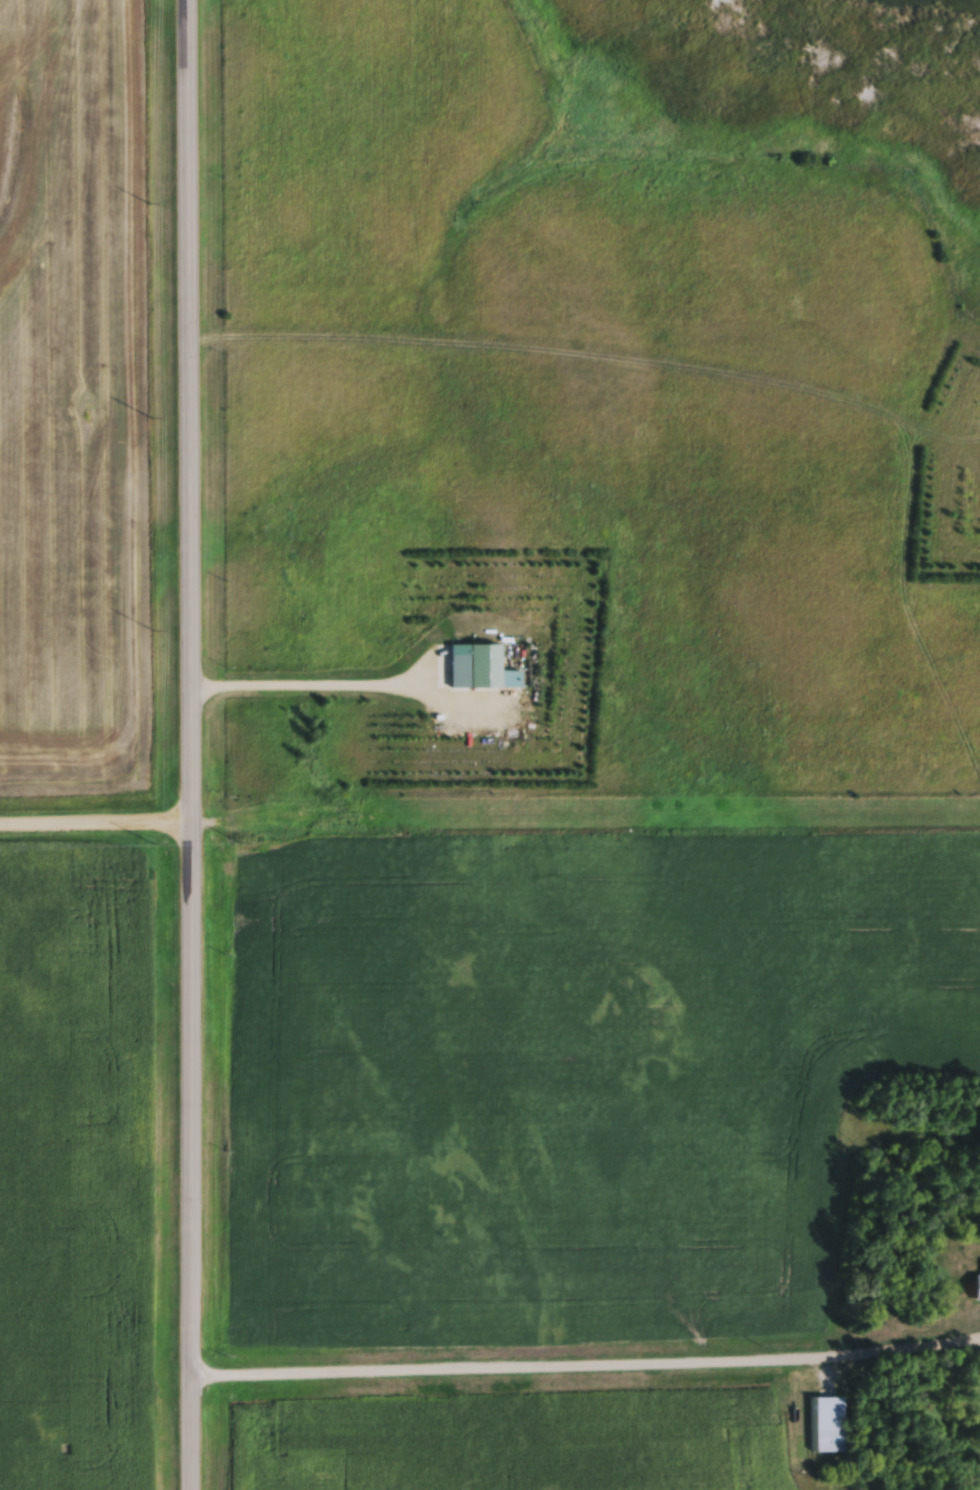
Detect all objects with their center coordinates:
building: (478, 668)
road: (335, 679)
road: (193, 744)
road: (97, 814)
power tower: (484, 846)
power tower: (857, 847)
power tower: (149, 848)
building: (977, 1290)
road: (586, 1358)
building: (824, 1427)

